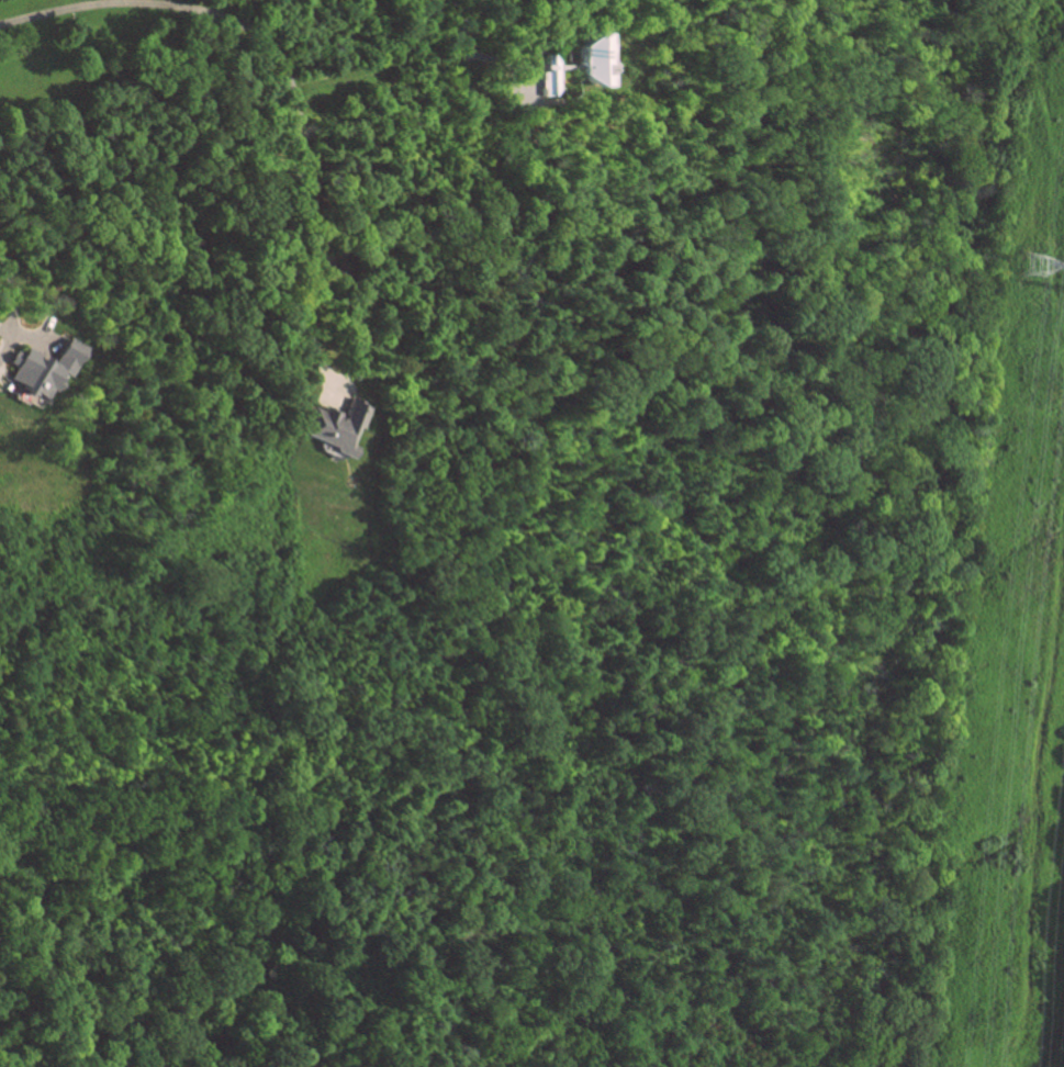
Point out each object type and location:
road: (177, 3)
road: (59, 10)
road: (462, 43)
building: (581, 60)
building: (544, 77)
road: (300, 169)
power tower: (1037, 267)
road: (7, 296)
building: (48, 369)
building: (326, 427)

